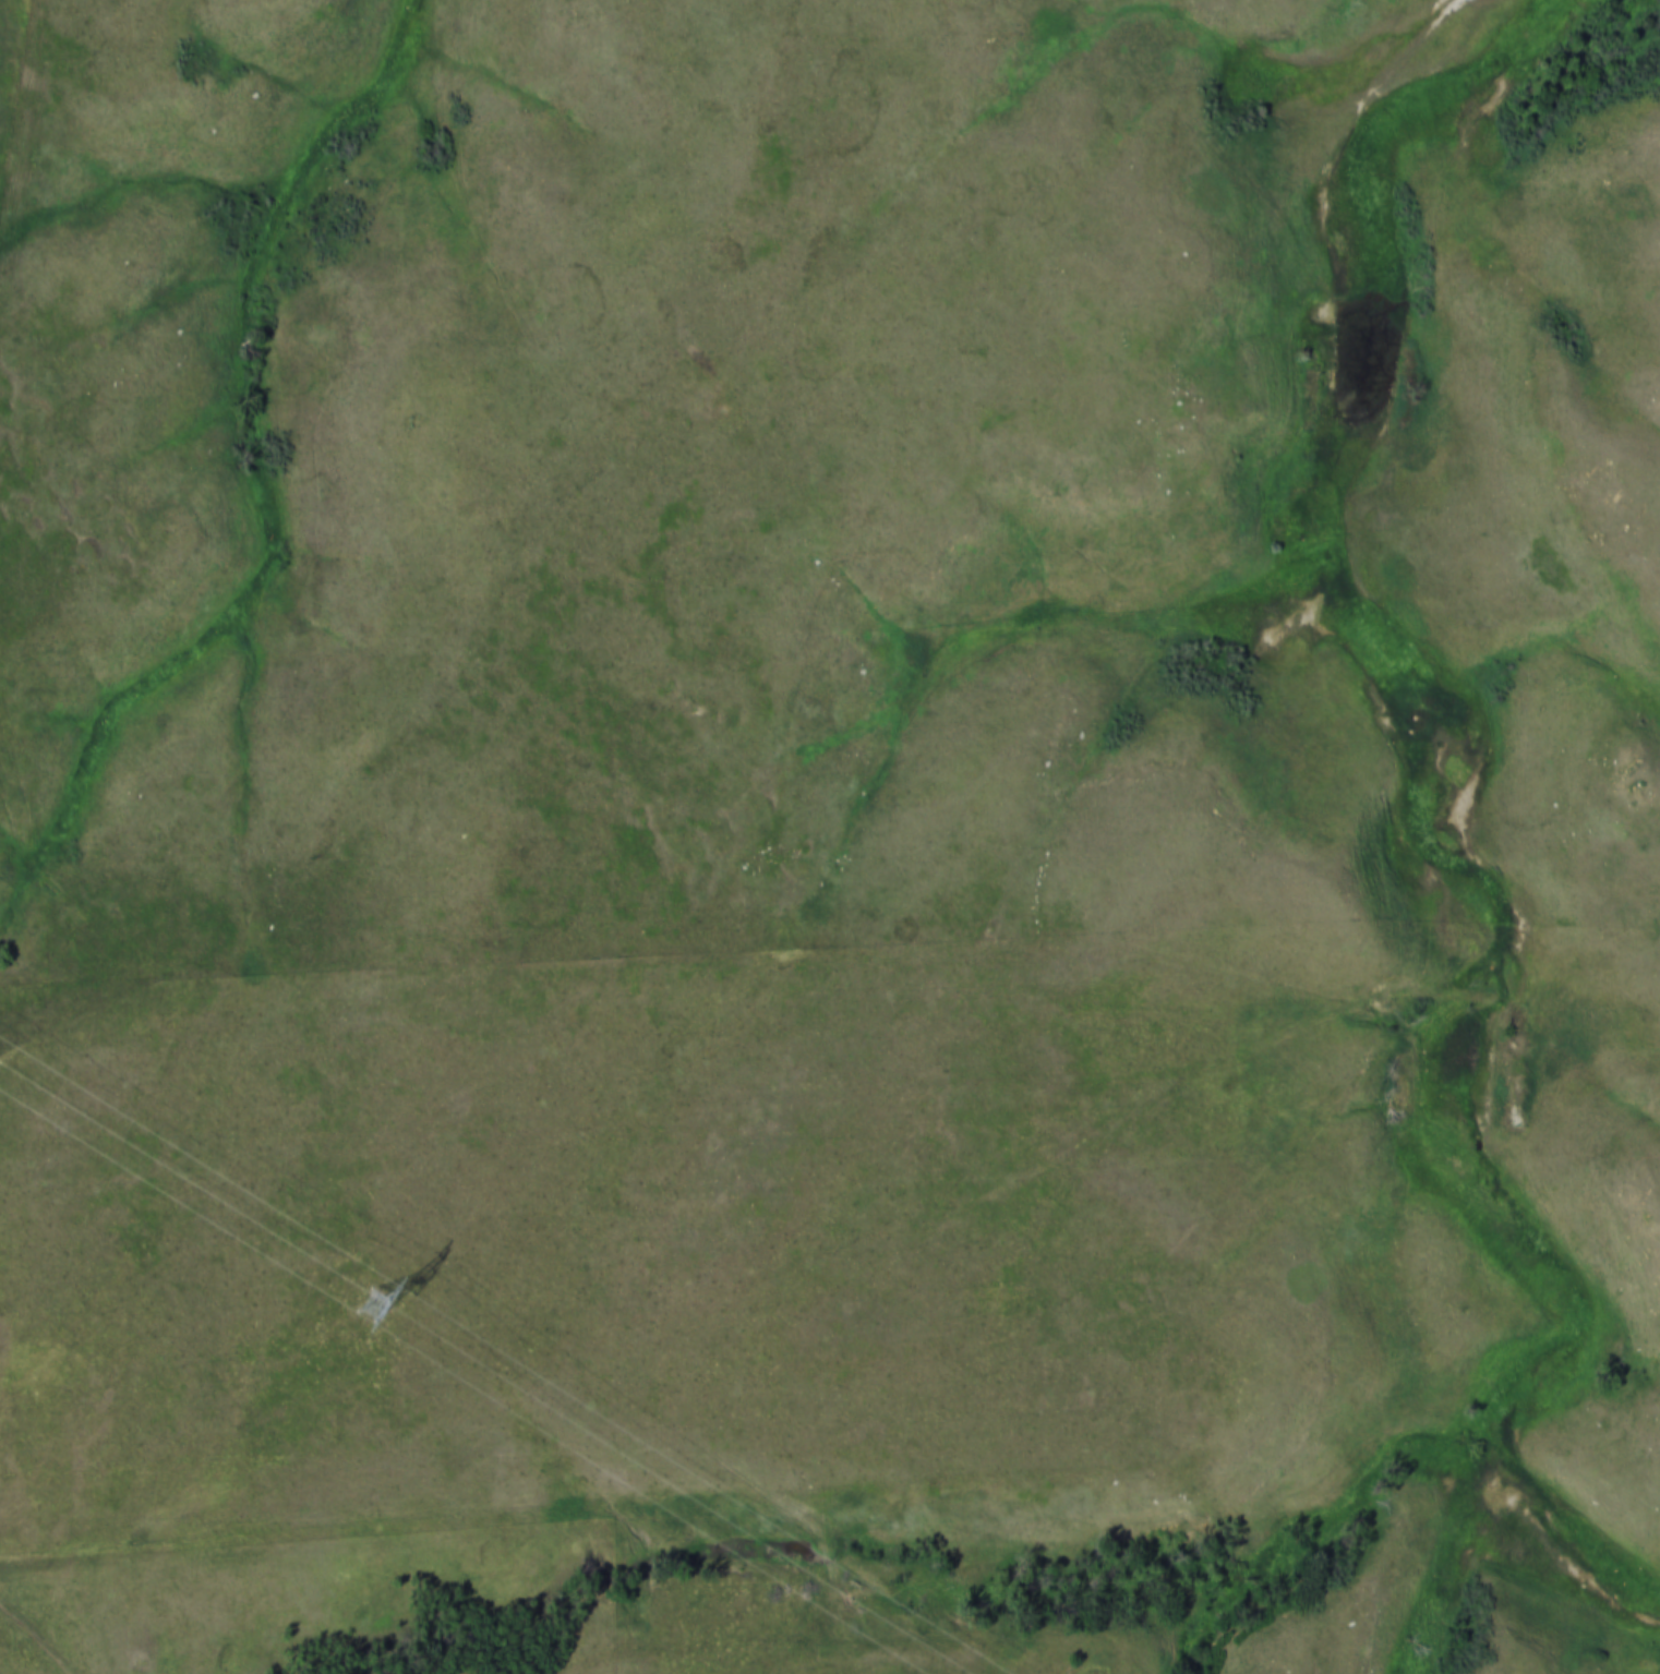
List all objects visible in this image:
power tower: (378, 1306)

